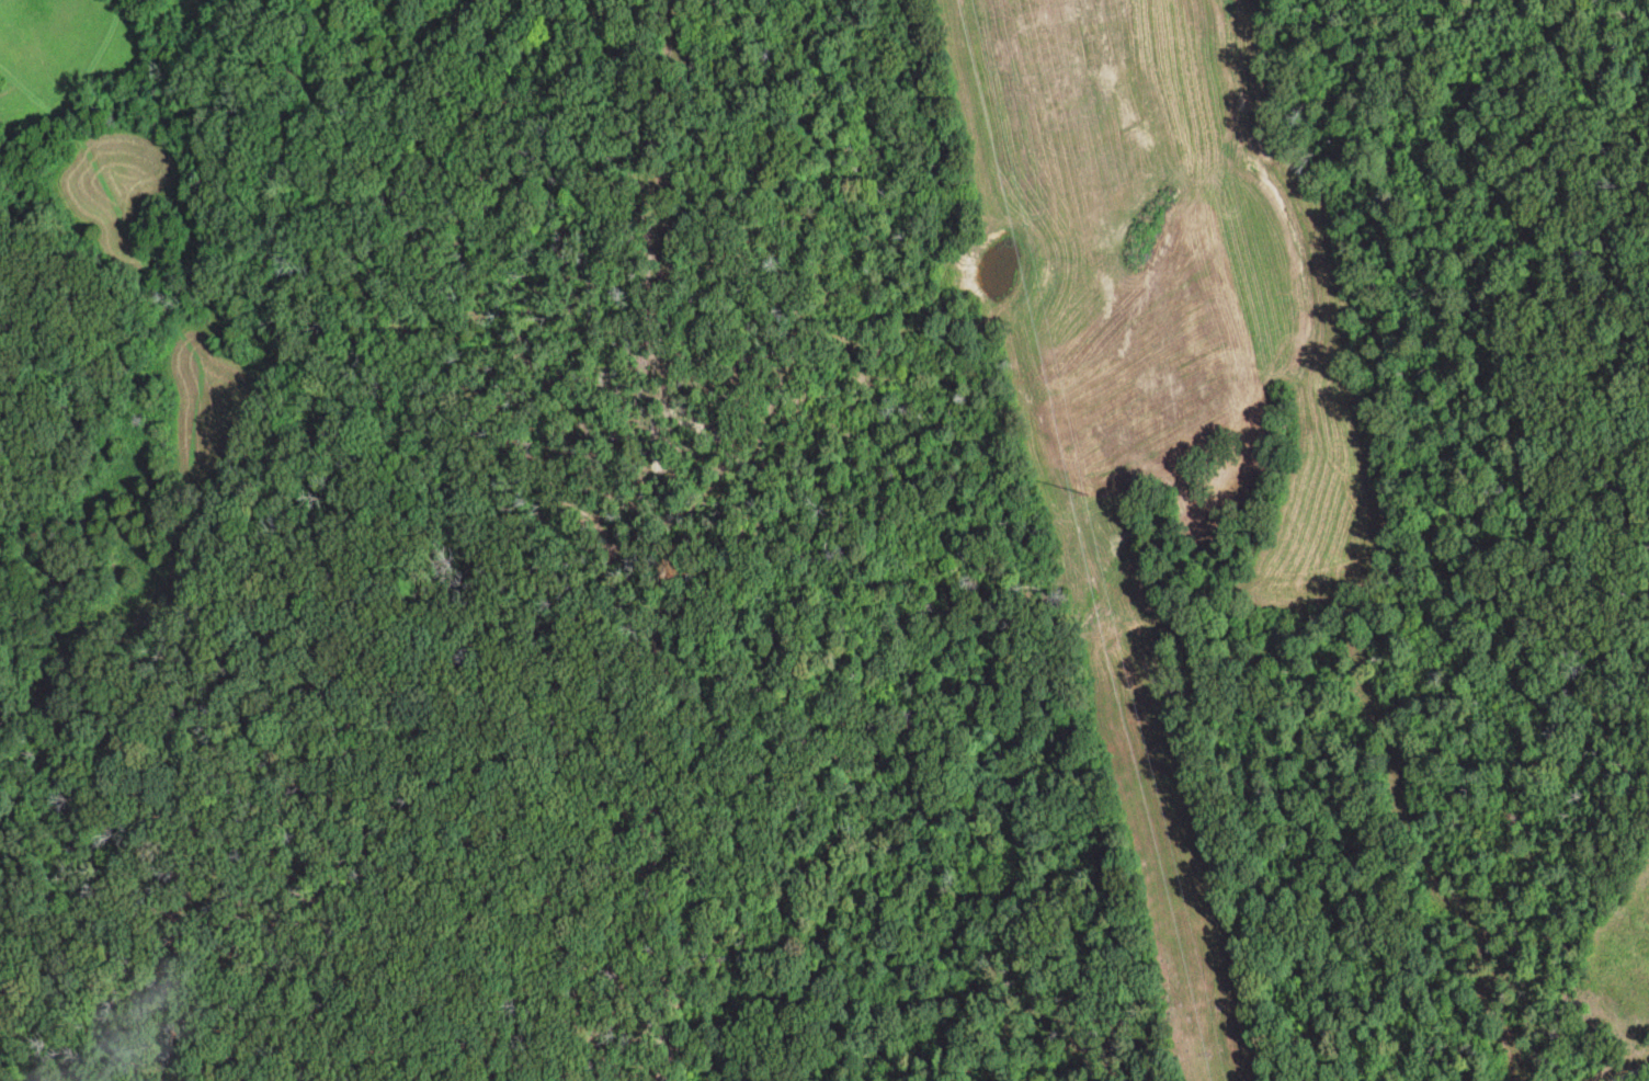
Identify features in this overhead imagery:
road: (1630, 1072)

